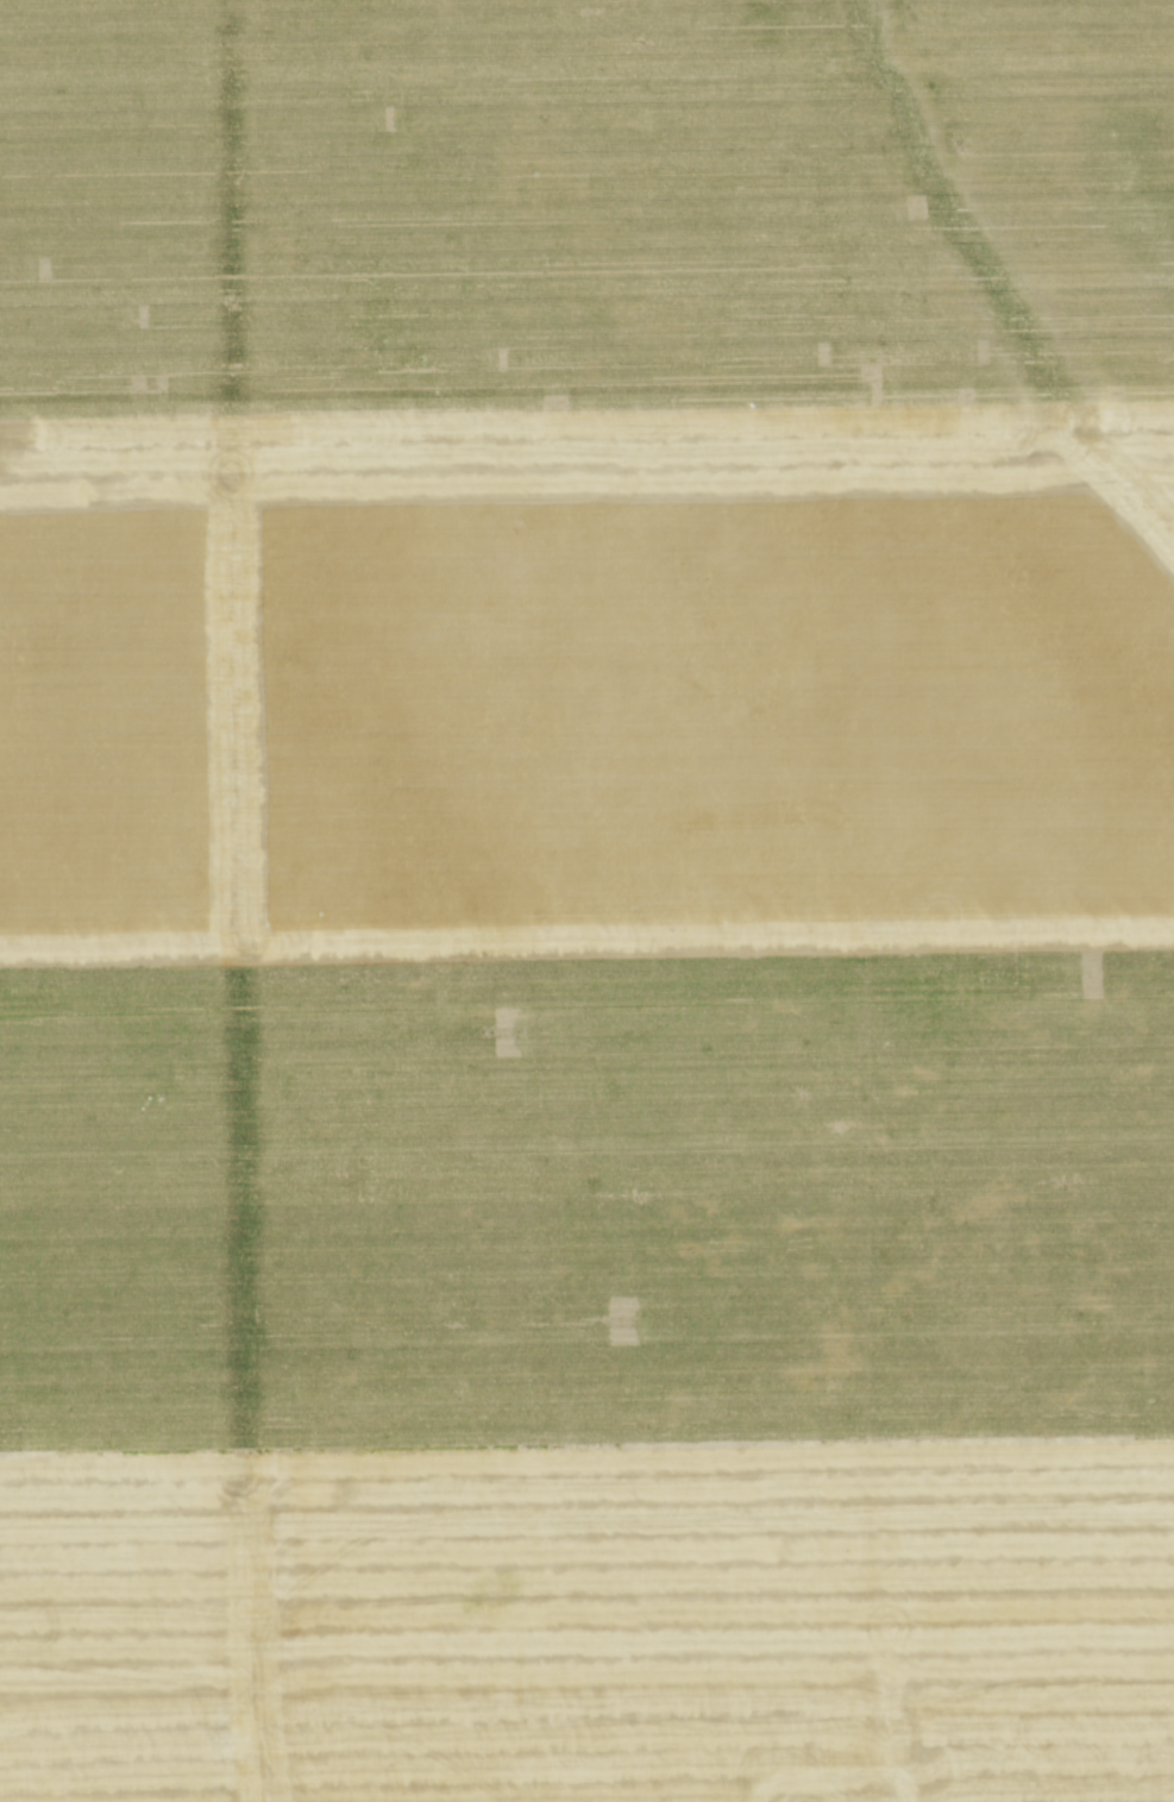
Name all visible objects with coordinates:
crop: (586, 900)

